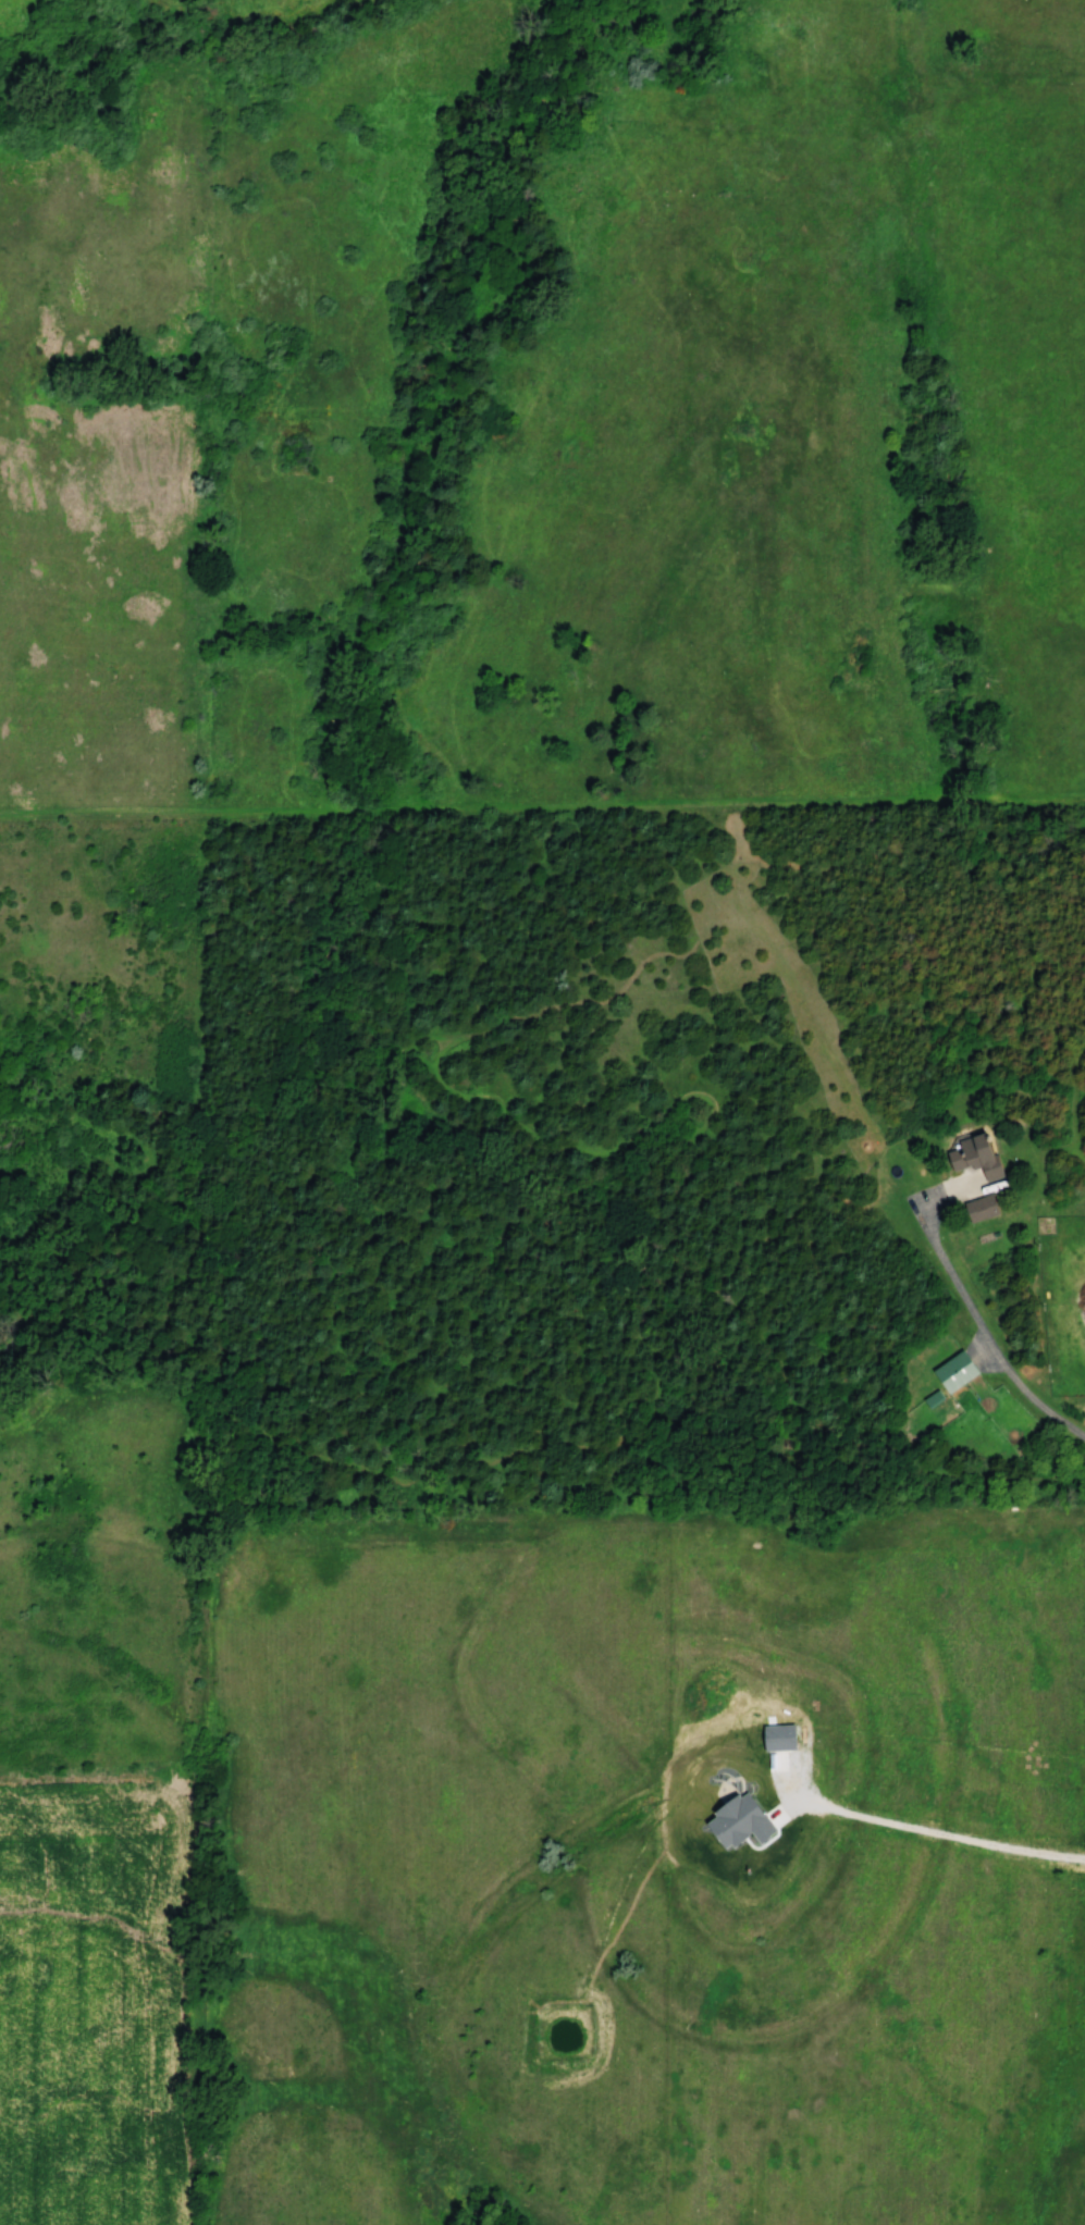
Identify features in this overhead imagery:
building: (971, 1157)
road: (973, 1312)
building: (951, 1371)
road: (937, 1833)

